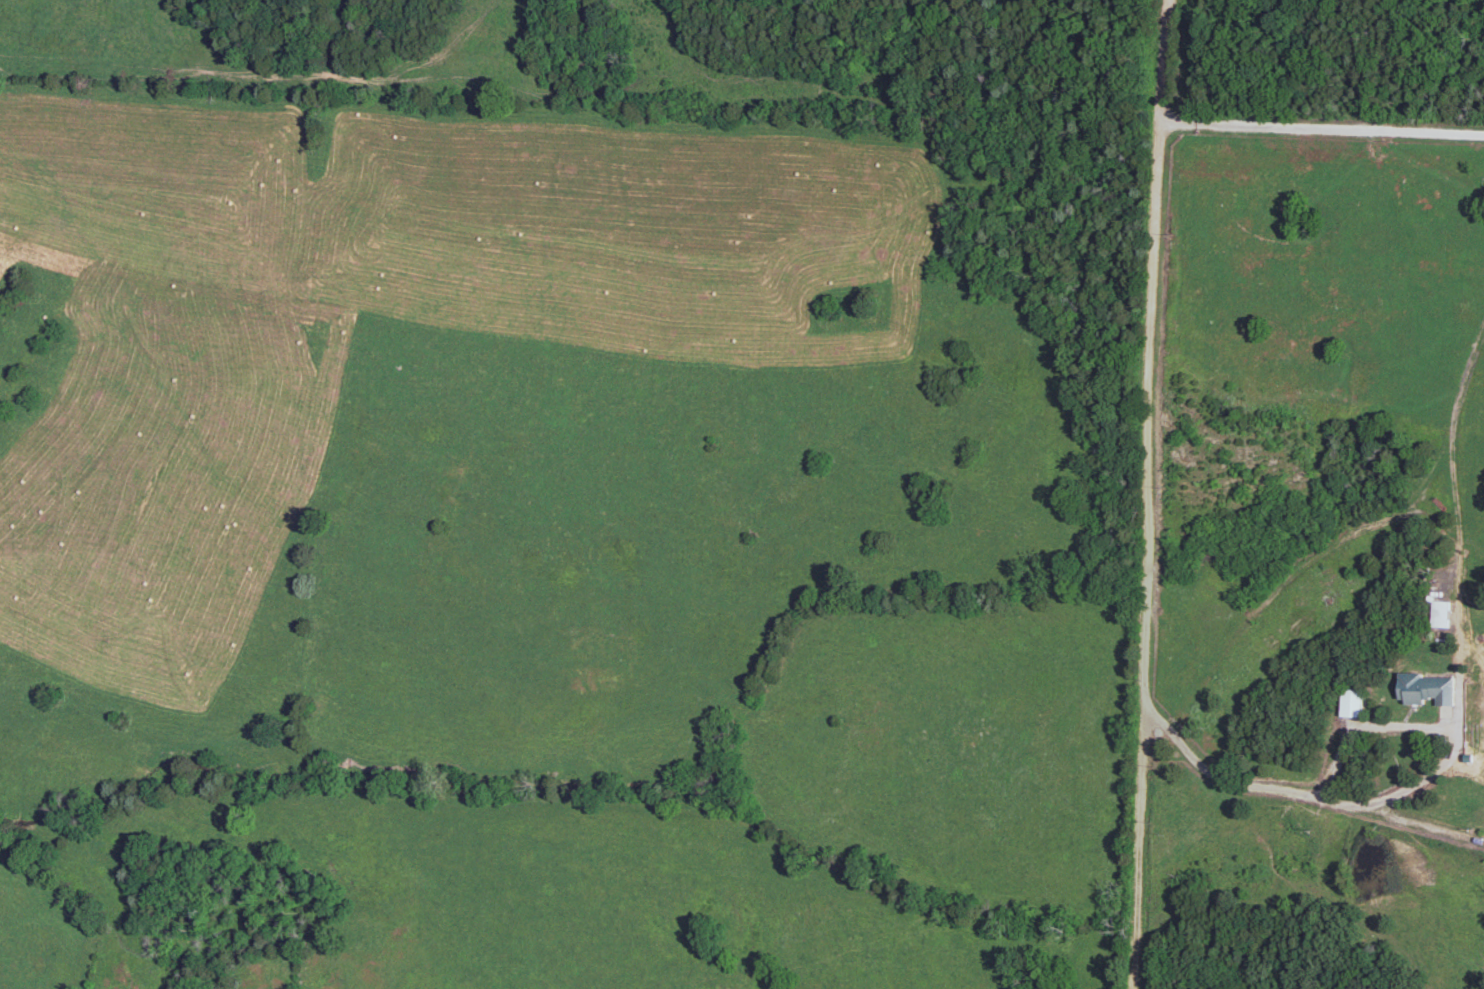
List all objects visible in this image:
road: (1320, 128)
road: (1144, 494)
building: (1439, 614)
building: (1424, 690)
building: (1351, 703)
road: (1364, 726)
road: (1453, 736)
road: (1295, 793)

